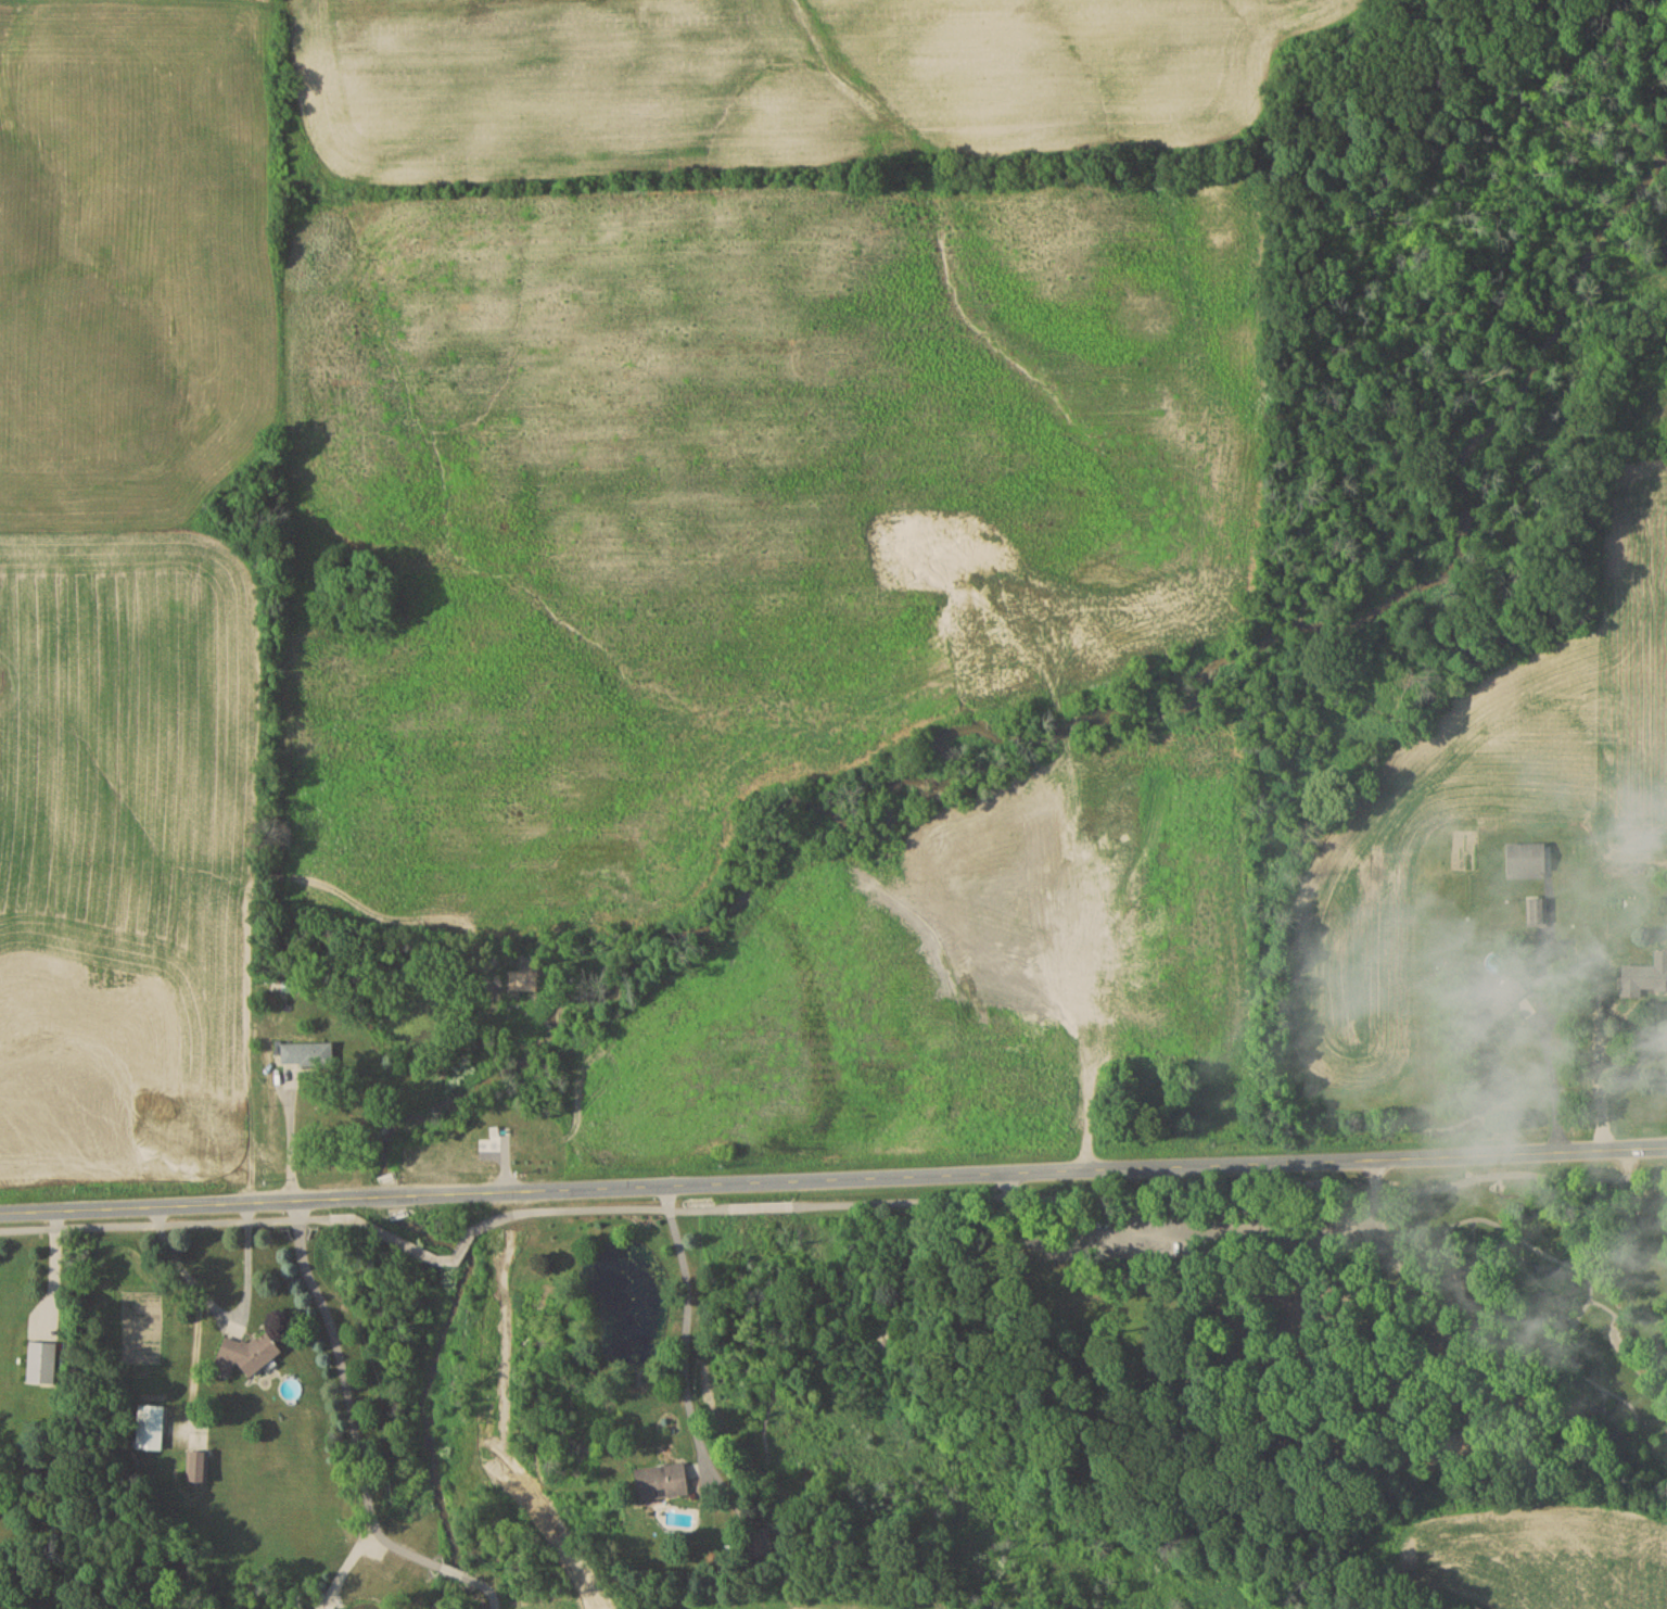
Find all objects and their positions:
building: (1523, 861)
building: (1536, 913)
building: (1653, 974)
building: (1493, 1001)
building: (308, 1053)
road: (1553, 1082)
road: (288, 1142)
road: (1657, 1144)
road: (1290, 1155)
road: (798, 1179)
road: (1371, 1188)
road: (479, 1193)
road: (1235, 1200)
road: (148, 1205)
road: (760, 1206)
road: (612, 1209)
road: (1015, 1213)
road: (164, 1225)
road: (1212, 1228)
parking lot: (1217, 1228)
road: (1519, 1241)
road: (421, 1250)
road: (1395, 1264)
road: (1418, 1269)
road: (1475, 1296)
building: (1459, 1298)
road: (221, 1310)
road: (683, 1318)
road: (1472, 1329)
park: (1305, 1331)
building: (247, 1355)
building: (42, 1363)
building: (151, 1427)
road: (352, 1436)
building: (199, 1467)
building: (663, 1482)

